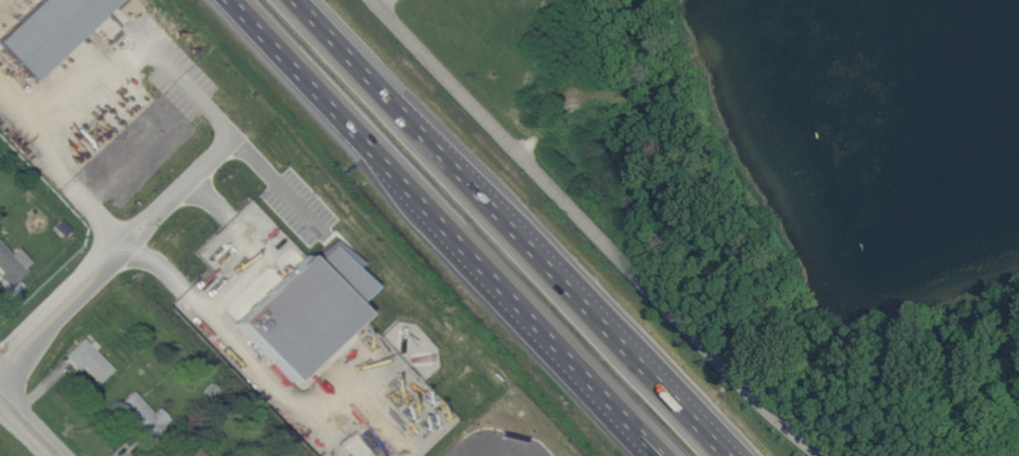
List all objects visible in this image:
road: (381, 3)
building: (50, 31)
road: (162, 63)
road: (272, 175)
road: (444, 227)
road: (516, 228)
road: (593, 230)
building: (12, 263)
road: (230, 273)
road: (96, 277)
building: (319, 304)
building: (88, 360)
building: (142, 415)
road: (27, 428)
road: (498, 445)
building: (185, 453)
building: (198, 454)

